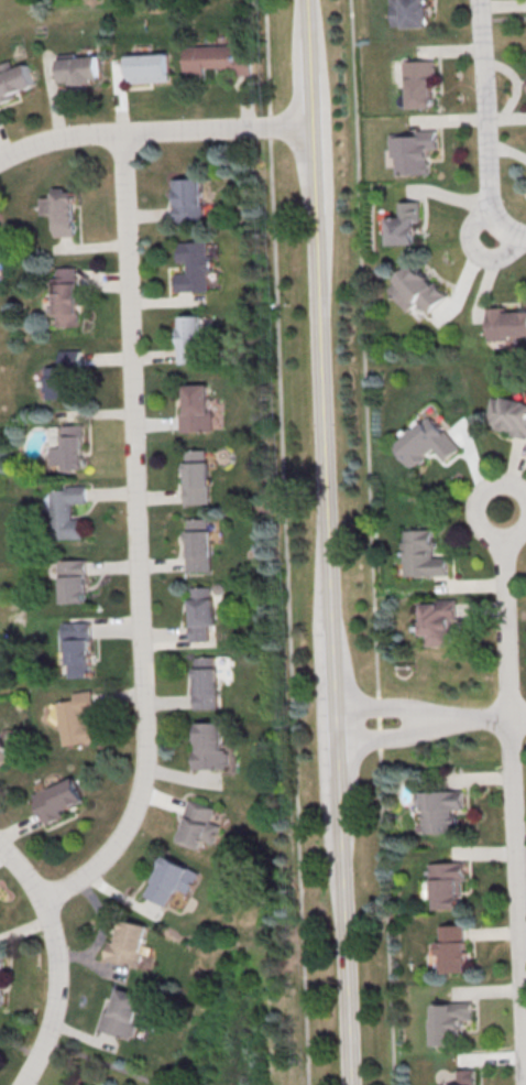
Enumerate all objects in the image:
building: (409, 13)
road: (504, 18)
park: (508, 28)
building: (215, 59)
building: (149, 66)
building: (79, 68)
building: (417, 80)
building: (14, 82)
road: (485, 127)
road: (153, 129)
building: (412, 151)
building: (187, 200)
building: (62, 210)
building: (403, 223)
building: (4, 246)
road: (471, 246)
building: (194, 265)
building: (417, 286)
building: (65, 296)
building: (505, 323)
building: (188, 338)
building: (62, 373)
building: (196, 409)
building: (509, 414)
building: (423, 443)
building: (69, 446)
road: (325, 463)
building: (197, 475)
building: (66, 511)
road: (285, 536)
road: (139, 538)
road: (370, 542)
building: (199, 544)
building: (423, 554)
building: (74, 579)
building: (201, 611)
road: (505, 614)
building: (438, 619)
building: (78, 647)
building: (0, 654)
building: (206, 682)
building: (76, 717)
road: (473, 718)
road: (420, 720)
building: (212, 746)
building: (3, 751)
building: (58, 799)
building: (439, 809)
building: (199, 824)
building: (171, 879)
building: (447, 882)
road: (515, 901)
building: (128, 942)
building: (451, 948)
road: (57, 962)
building: (1, 980)
road: (347, 1006)
building: (122, 1013)
building: (448, 1021)
road: (75, 1053)
building: (463, 1077)
building: (83, 1084)
building: (85, 1084)

